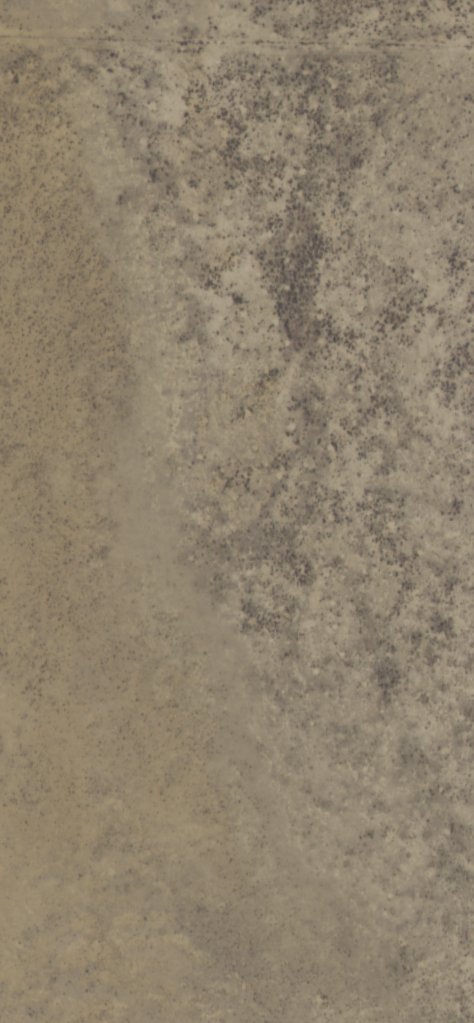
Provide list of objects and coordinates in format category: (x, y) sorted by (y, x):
road: (237, 103)

